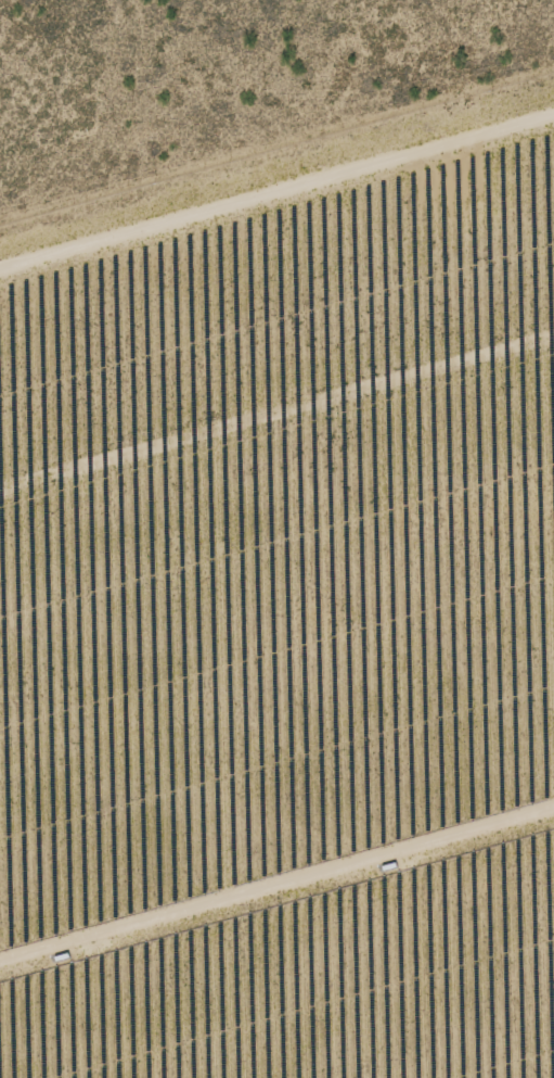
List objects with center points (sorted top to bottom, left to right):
solar farm: (284, 609)

